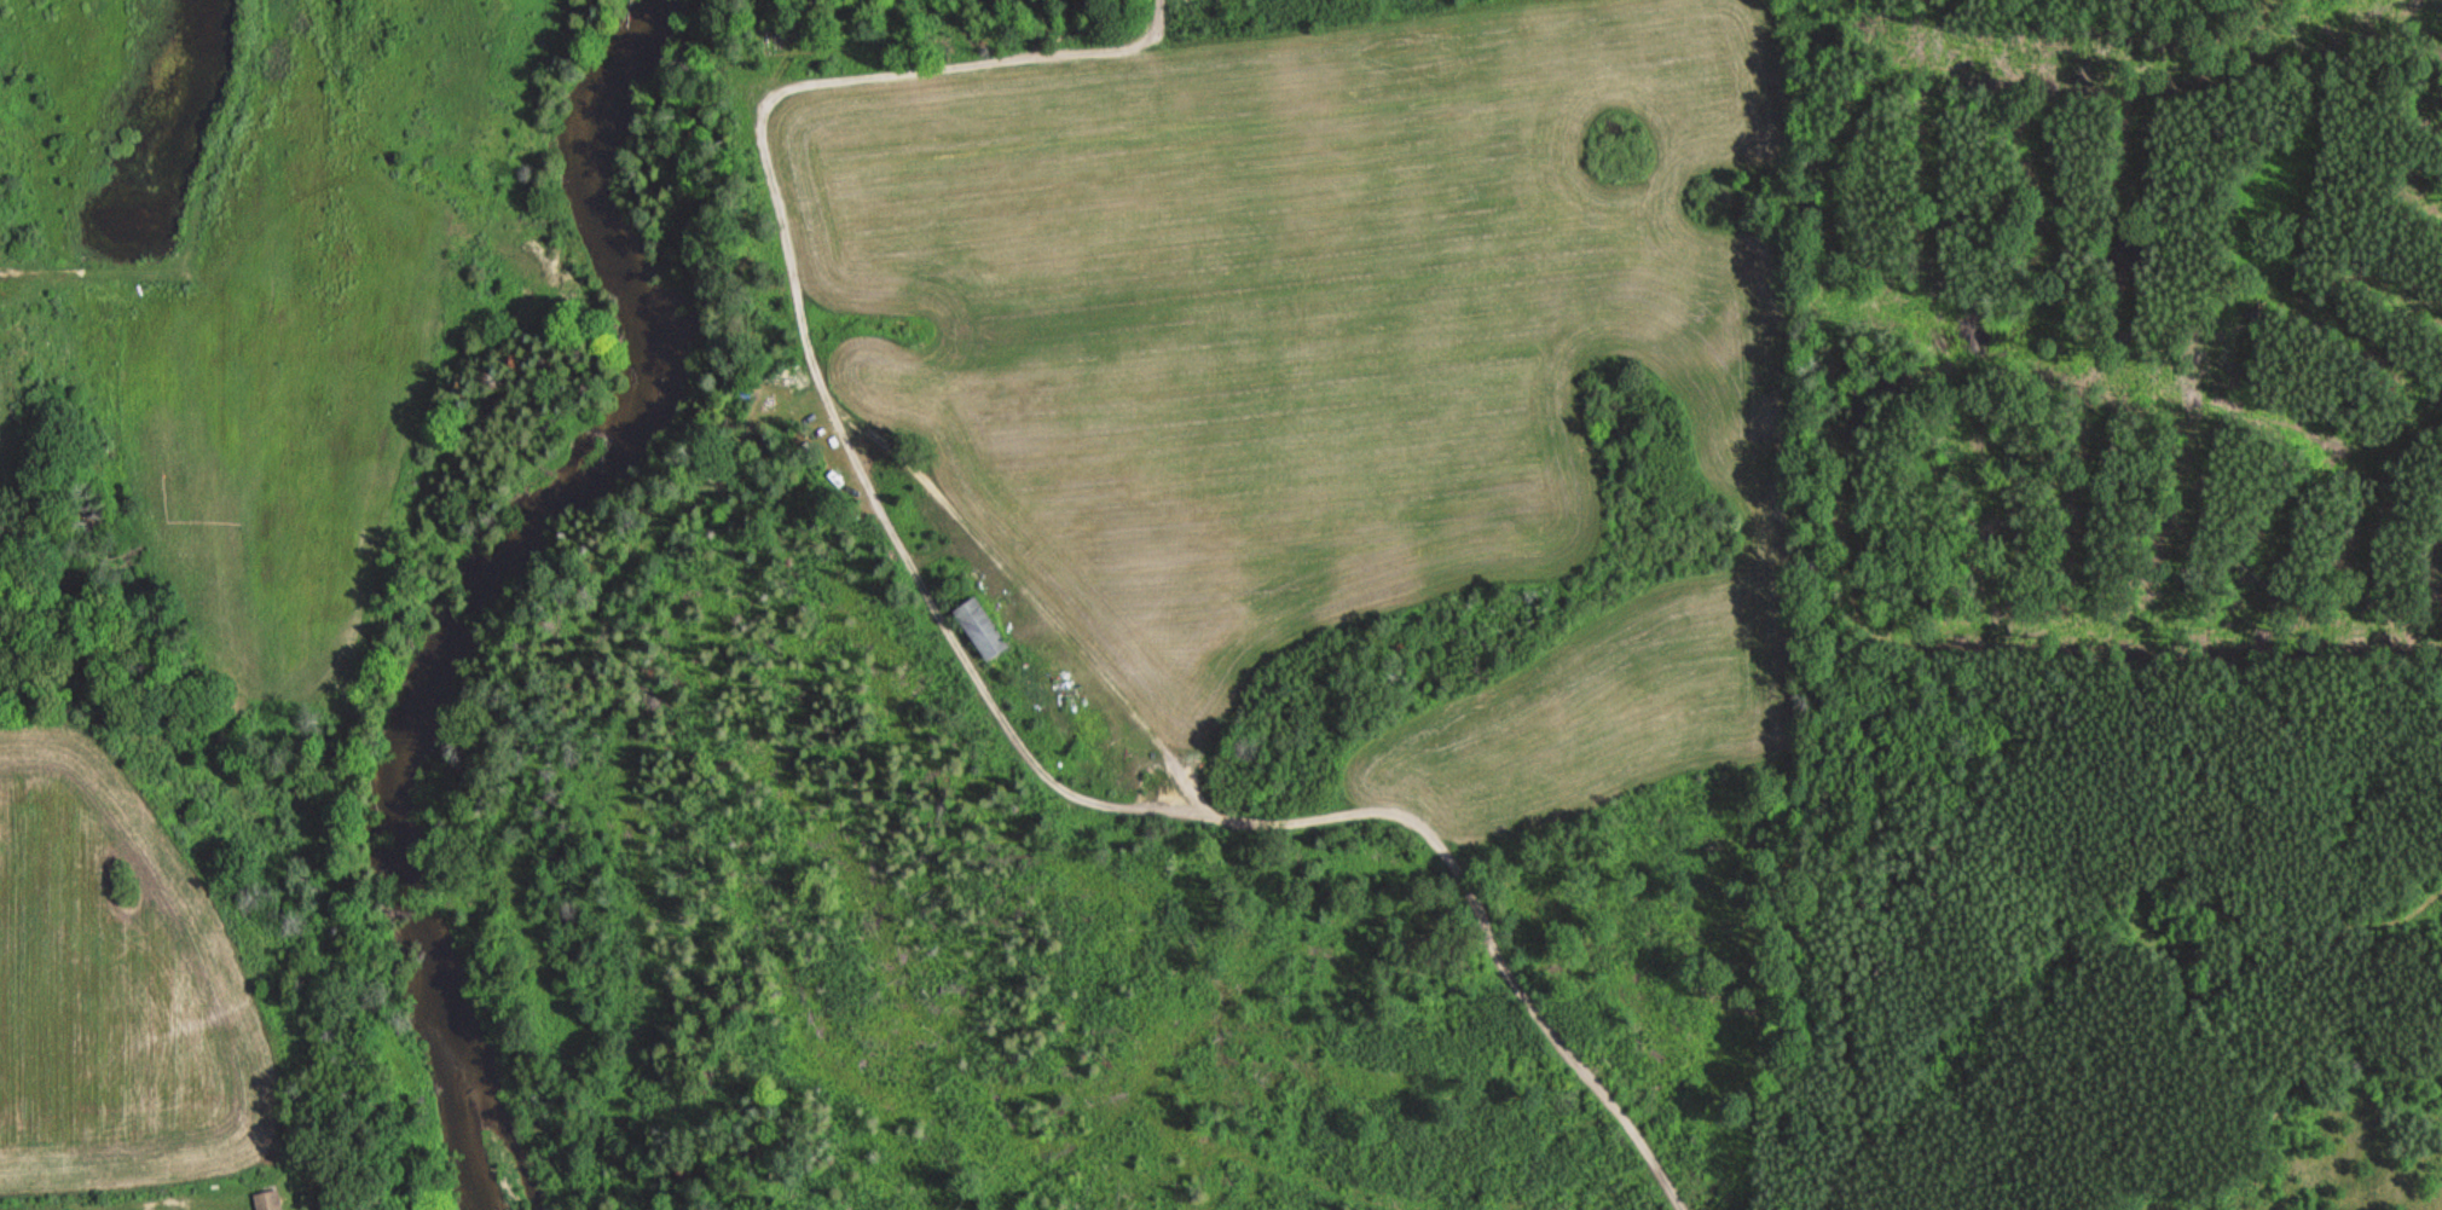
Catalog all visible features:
river: (491, 581)
building: (979, 629)
building: (266, 1200)

